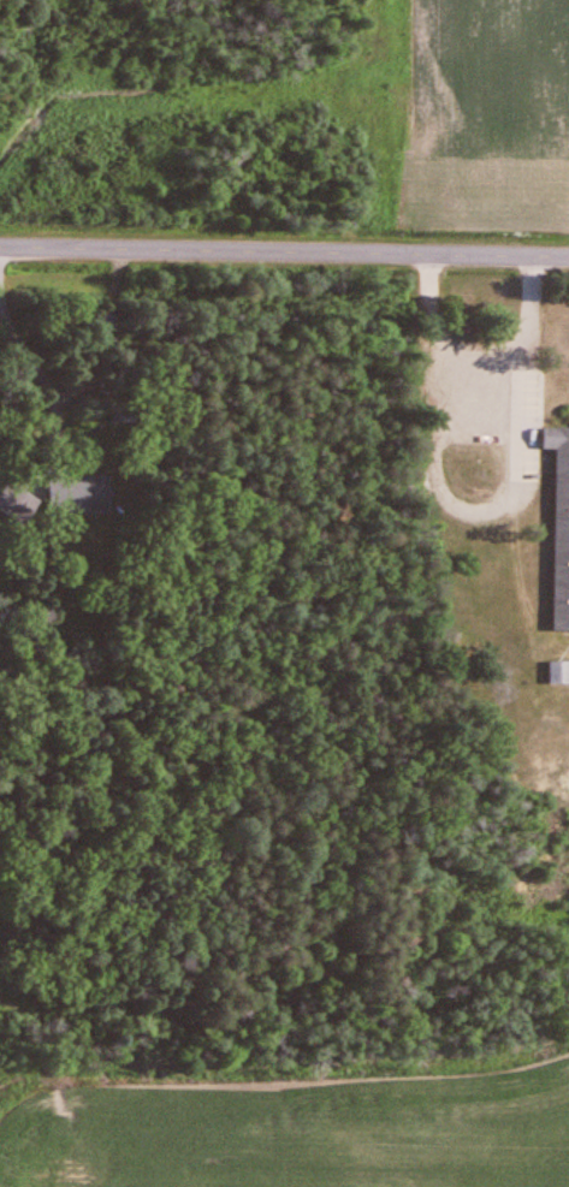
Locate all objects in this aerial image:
road: (284, 261)
building: (96, 330)
road: (469, 355)
road: (40, 387)
building: (72, 495)
building: (557, 527)
building: (555, 673)

